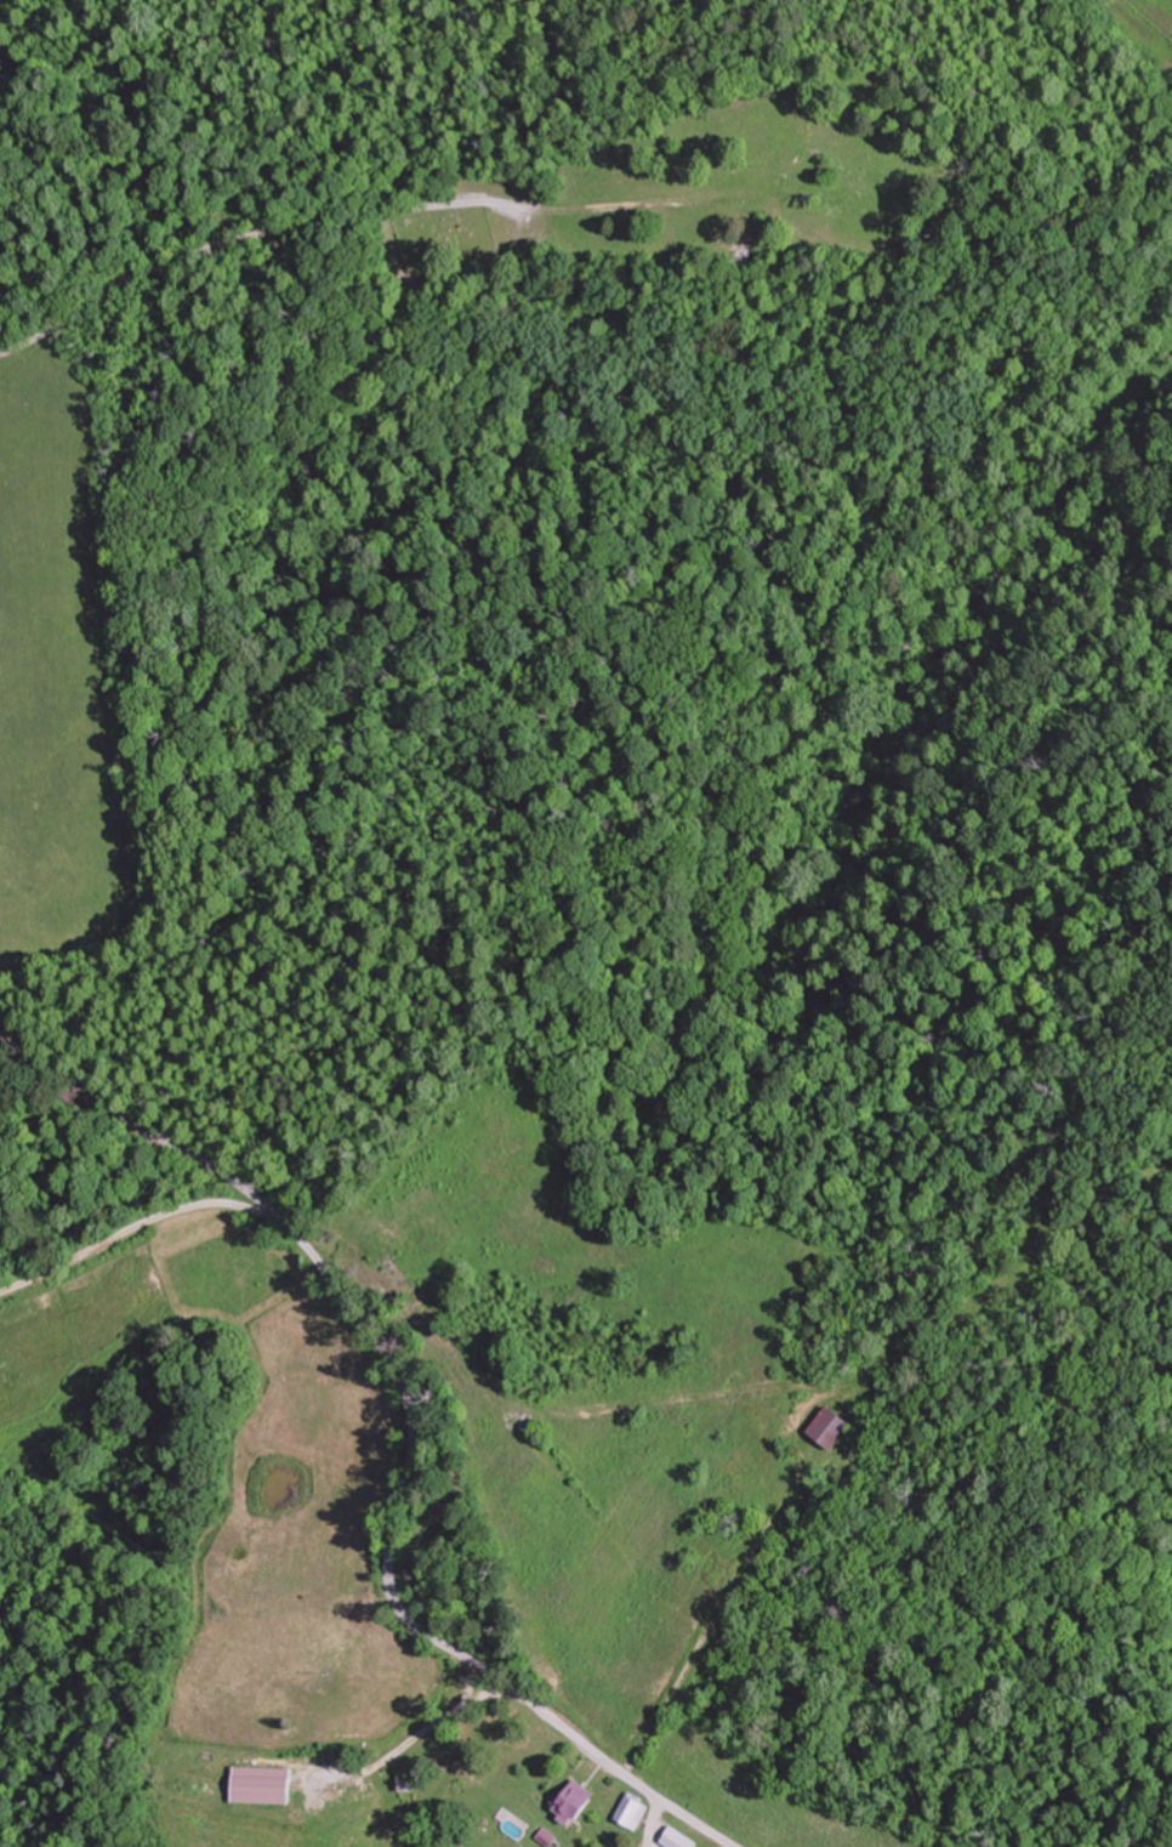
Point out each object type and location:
road: (238, 235)
road: (141, 1233)
building: (830, 1425)
road: (409, 1434)
building: (337, 1781)
building: (578, 1802)
building: (637, 1811)
building: (681, 1839)

